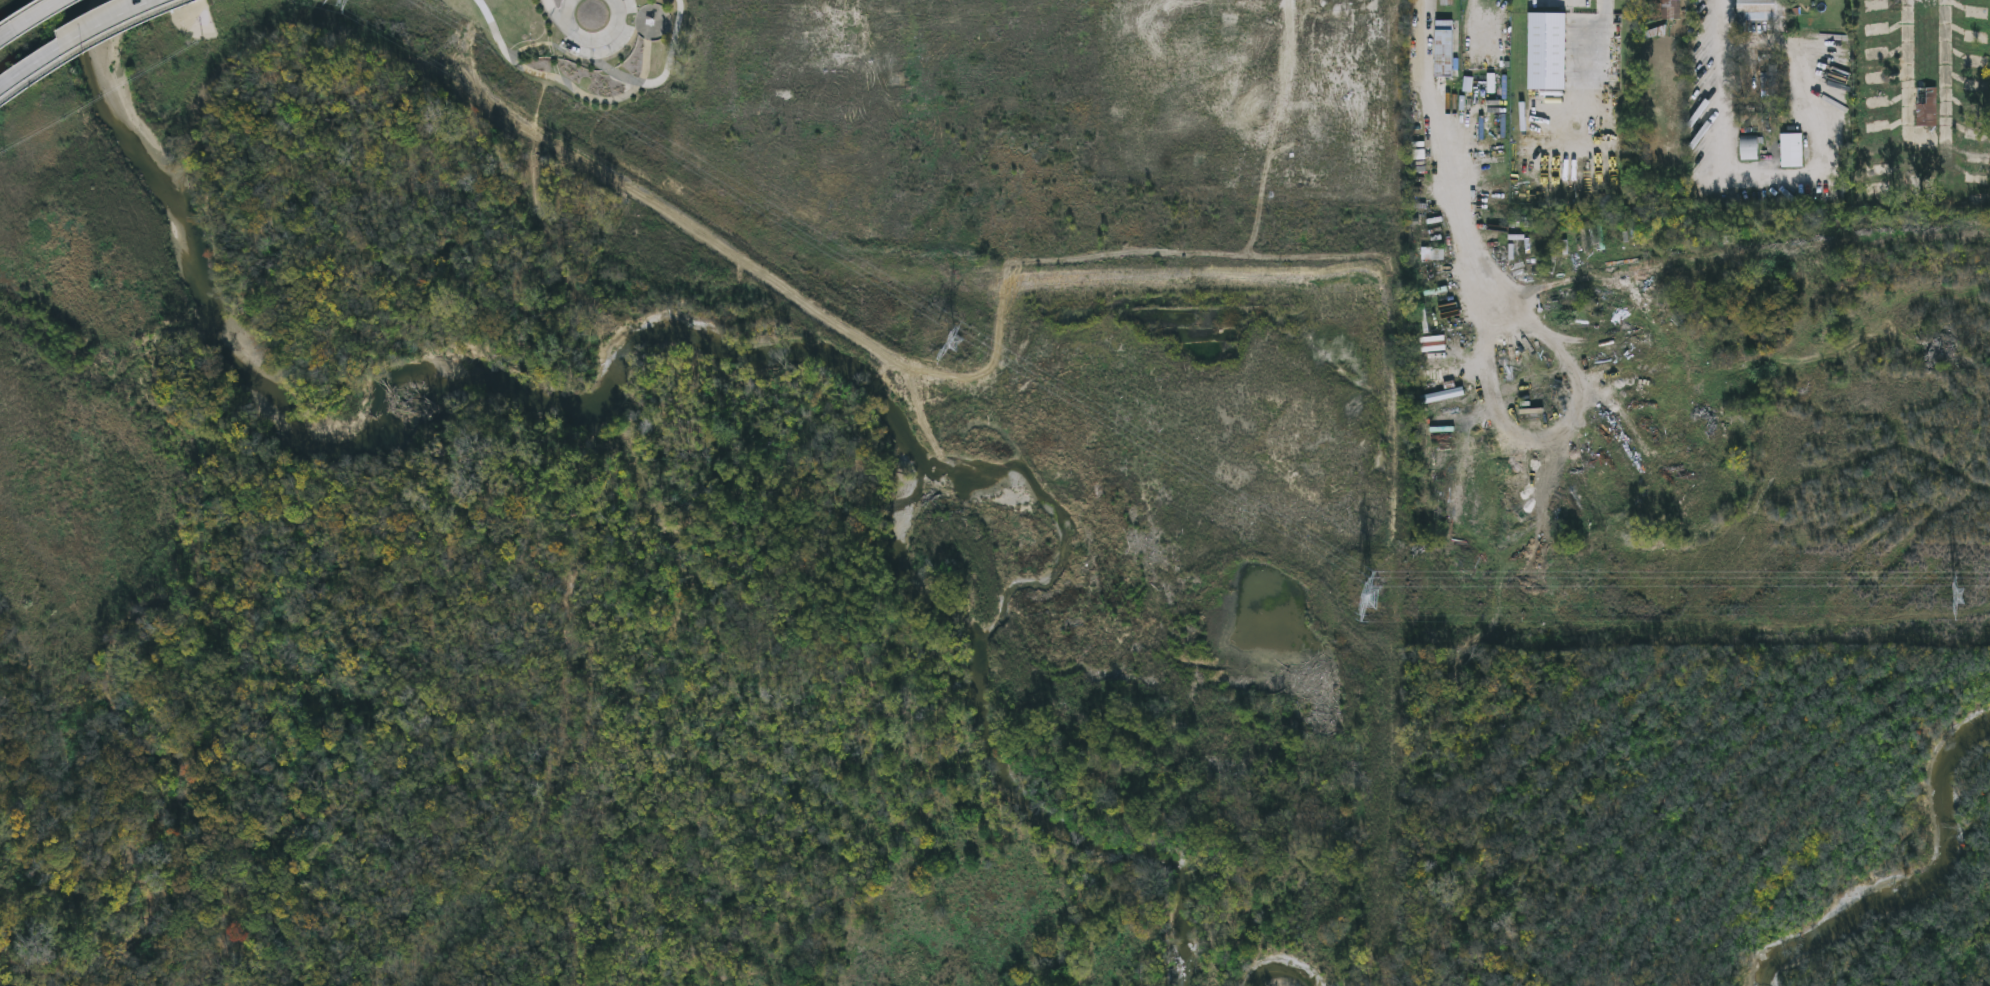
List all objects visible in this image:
building: (1671, 8)
building: (1757, 9)
road: (554, 13)
road: (32, 17)
road: (81, 41)
road: (593, 44)
building: (1445, 48)
road: (671, 52)
road: (100, 53)
road: (1603, 59)
road: (1723, 76)
road: (581, 95)
building: (1927, 105)
building: (1750, 147)
building: (1793, 150)
building: (1434, 253)
power tower: (959, 343)
power tower: (1374, 596)
power tower: (1962, 596)

